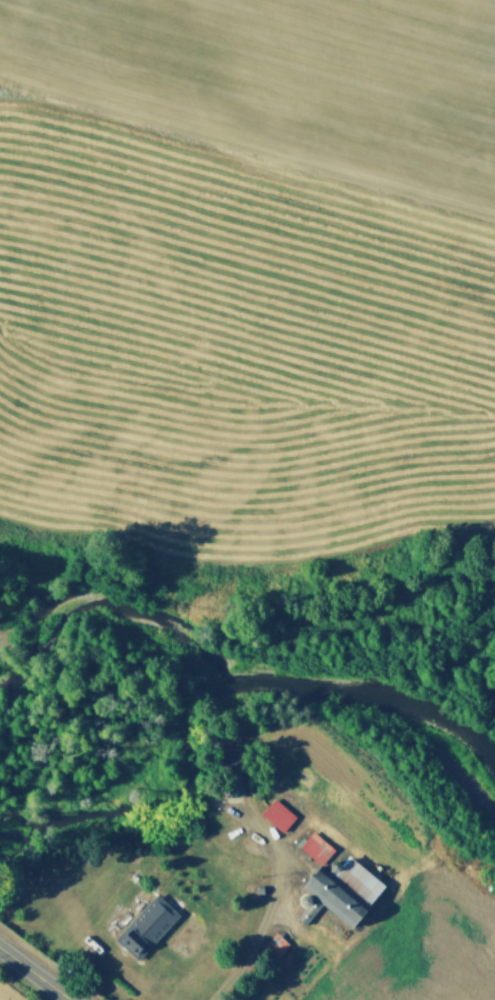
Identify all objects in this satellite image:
crop: (287, 78)
crop: (233, 345)
river: (257, 682)
building: (231, 767)
building: (277, 811)
building: (315, 843)
building: (335, 860)
silo: (335, 860)
building: (260, 885)
building: (341, 887)
building: (306, 893)
silo: (306, 893)
road: (267, 904)
building: (144, 926)
crop: (398, 952)
building: (265, 955)
road: (37, 971)
crop: (10, 992)

